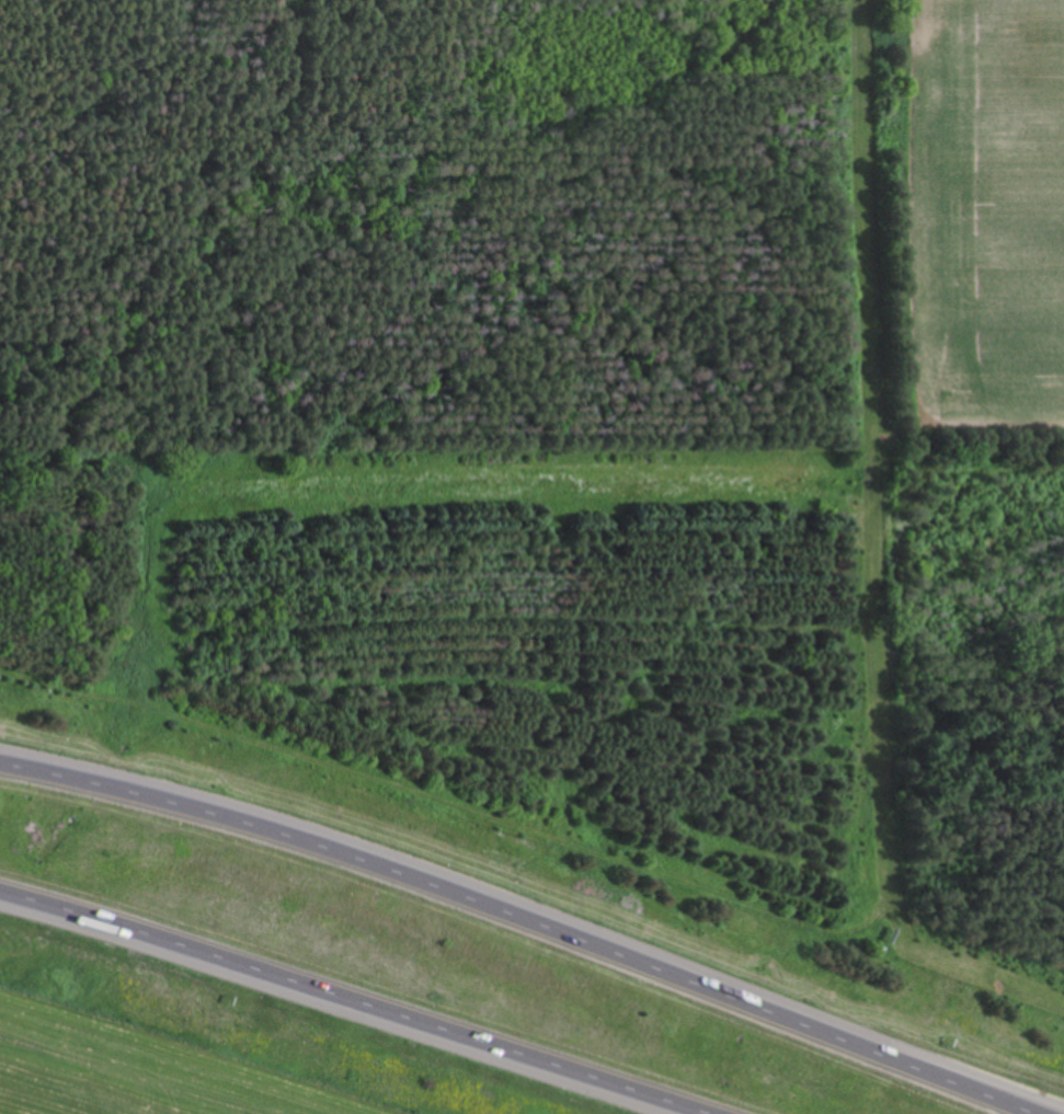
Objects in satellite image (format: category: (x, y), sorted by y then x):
road: (522, 917)
road: (354, 1000)

